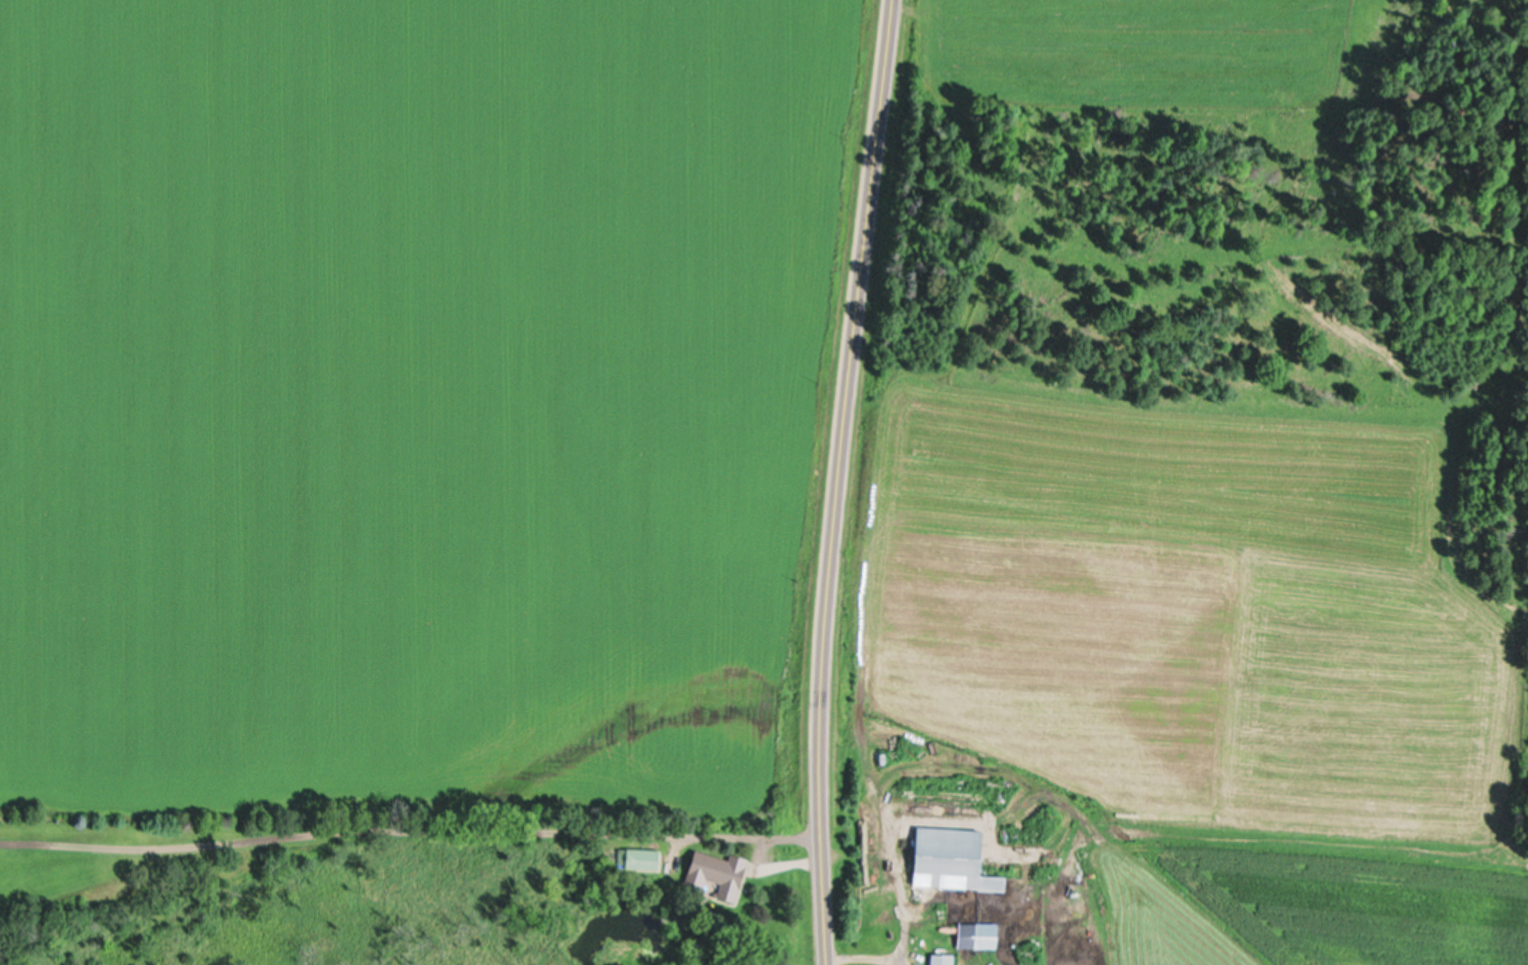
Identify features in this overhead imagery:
crop: (424, 398)
road: (836, 481)
building: (944, 856)
building: (640, 861)
building: (713, 875)
building: (943, 959)

